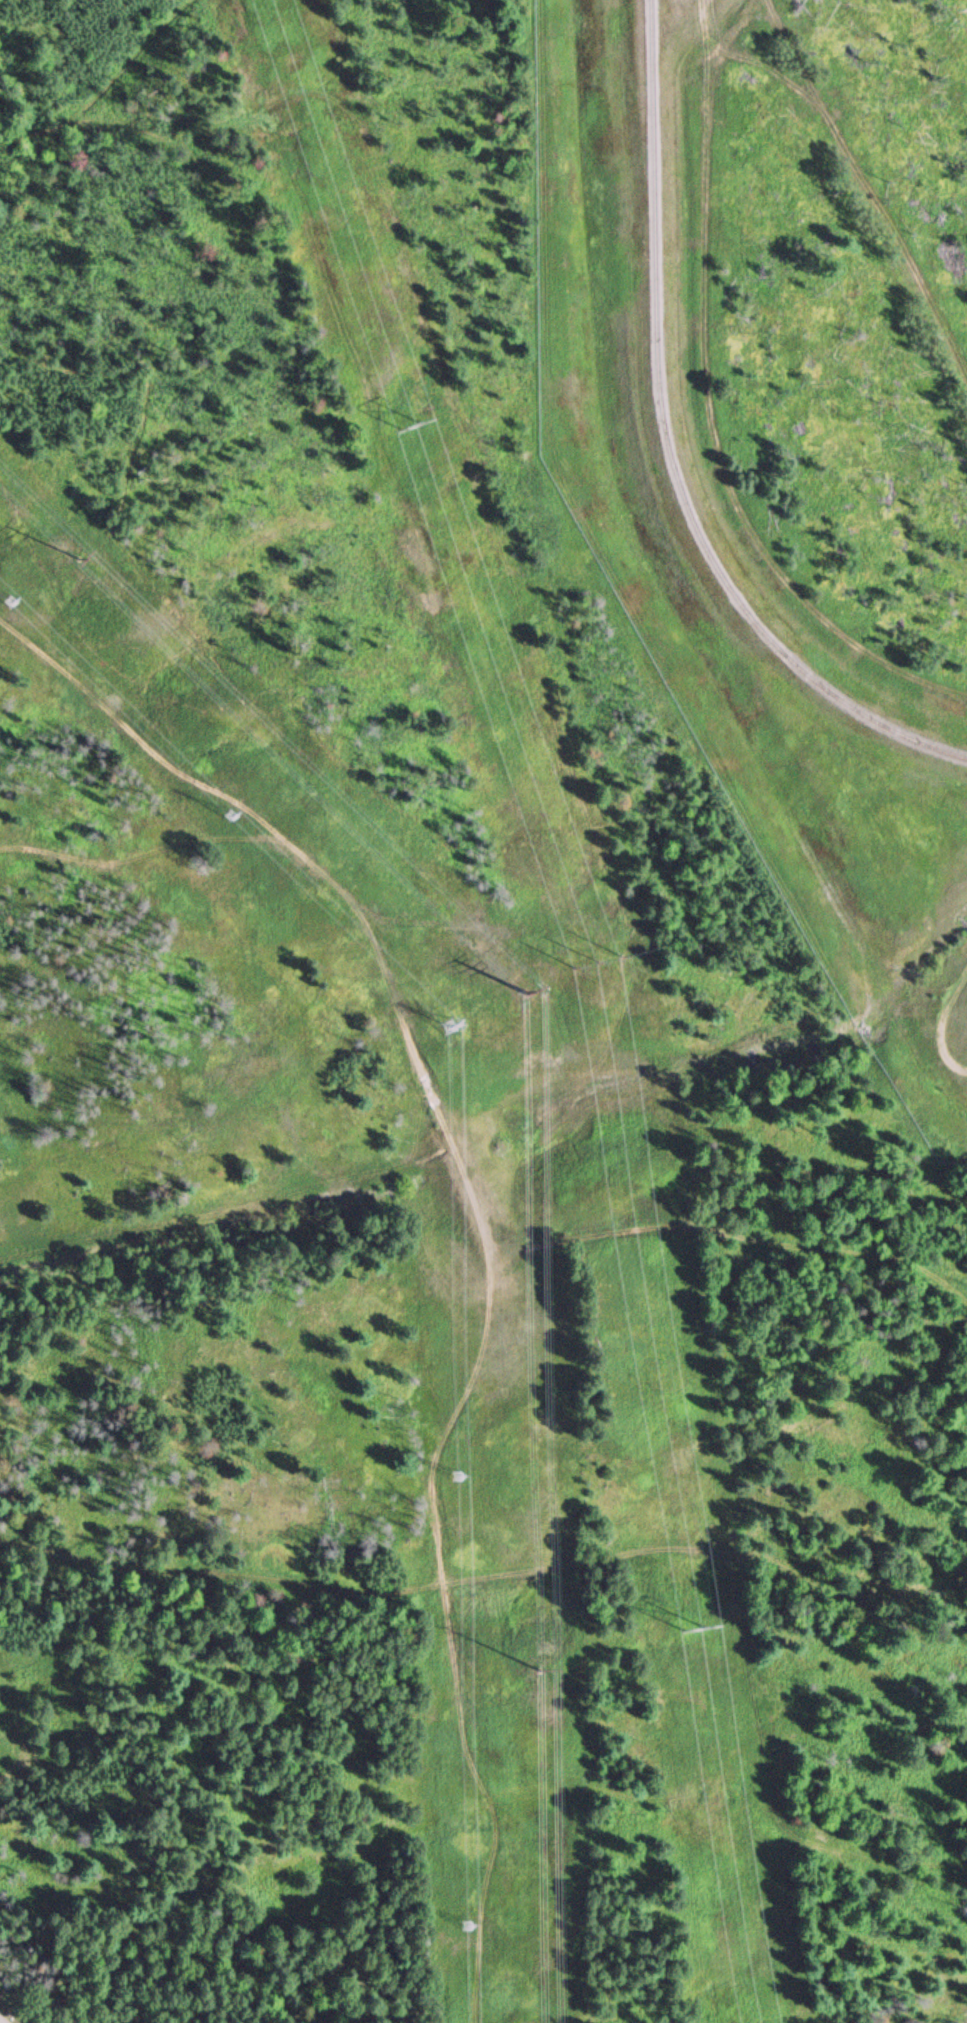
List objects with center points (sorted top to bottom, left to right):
power tower: (410, 424)
railway: (671, 448)
power tower: (100, 553)
power tower: (11, 602)
power tower: (232, 815)
power tower: (595, 962)
power tower: (543, 994)
power tower: (454, 1025)
power tower: (458, 1475)
power tower: (687, 1631)
power tower: (573, 1670)
power tower: (470, 1925)

